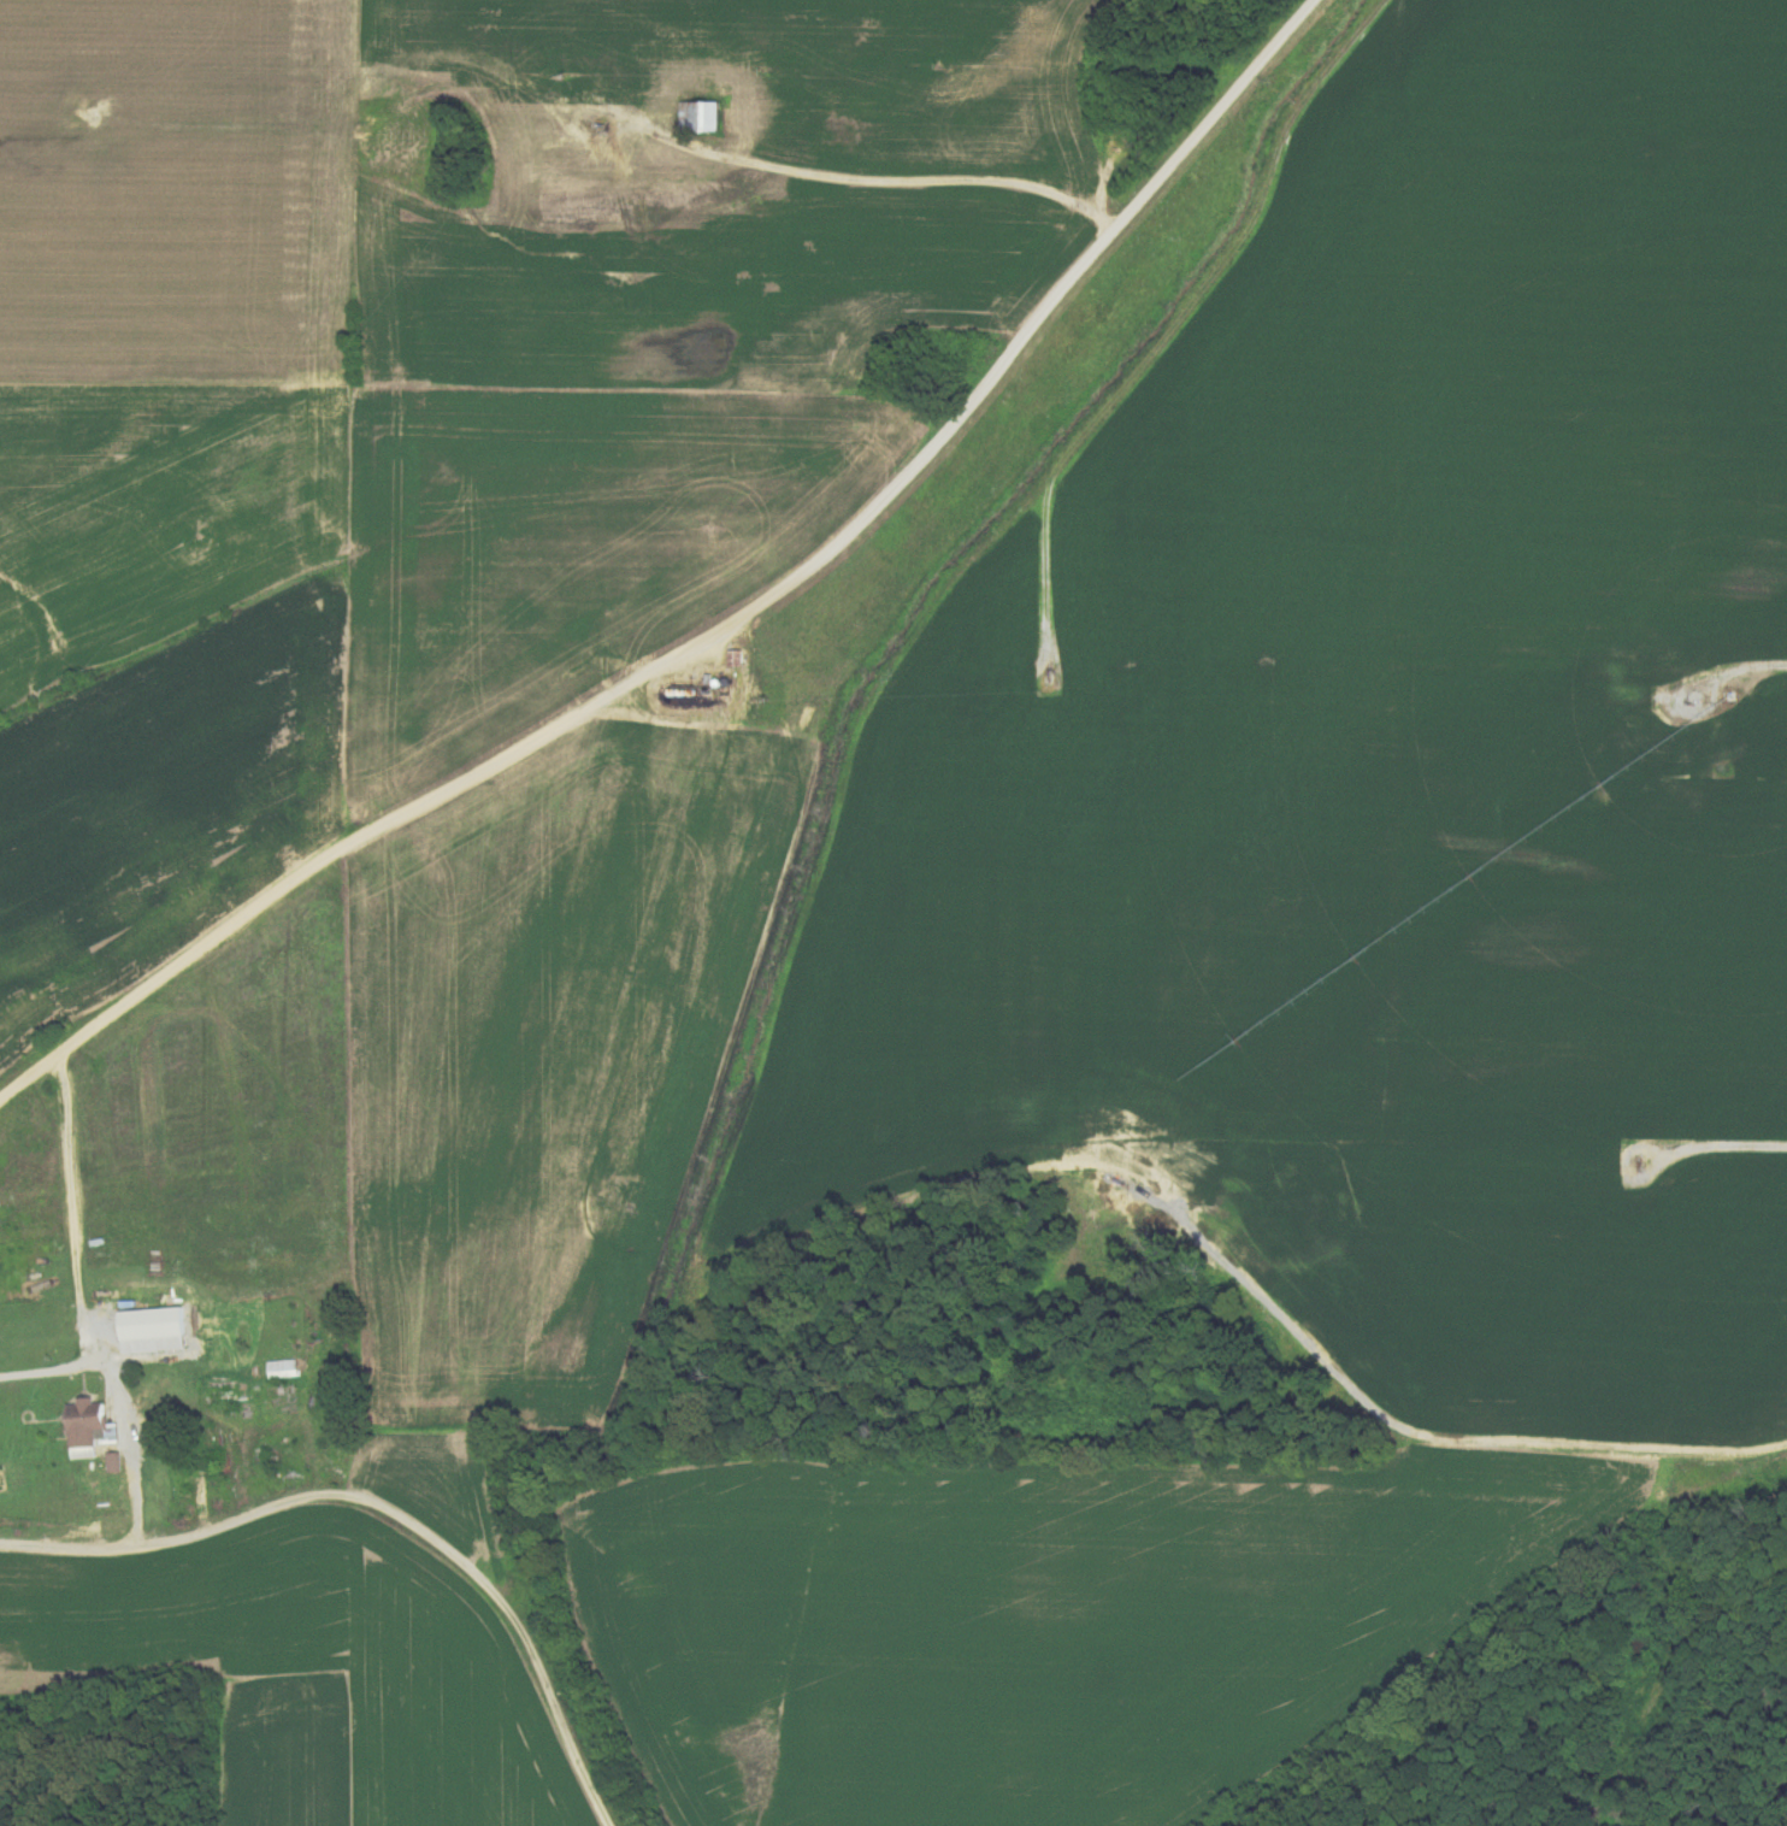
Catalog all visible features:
building: (703, 118)
petroleum well: (604, 129)
petroleum well: (1650, 154)
road: (1447, 157)
road: (877, 176)
road: (725, 628)
building: (738, 660)
road: (659, 900)
road: (1729, 1148)
petroleum well: (1636, 1166)
road: (77, 1250)
building: (284, 1369)
building: (94, 1429)
building: (117, 1462)
road: (387, 1508)
road: (1516, 1632)

